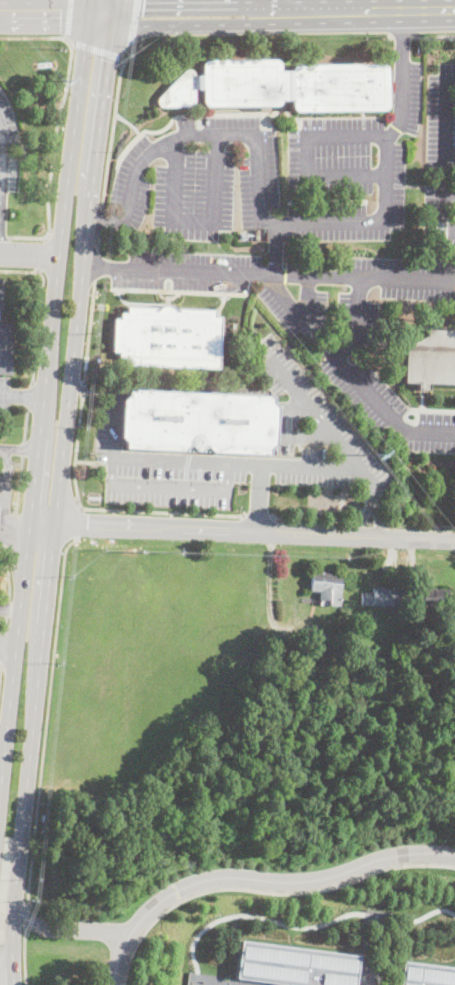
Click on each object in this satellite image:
road: (345, 11)
road: (44, 12)
traffic signals: (60, 13)
road: (197, 14)
road: (123, 16)
traffic signals: (142, 16)
road: (68, 18)
road: (133, 24)
road: (433, 34)
road: (401, 37)
road: (178, 39)
road: (96, 49)
traffic signals: (107, 60)
power tower: (57, 79)
building: (281, 86)
road: (178, 115)
parking lot: (441, 119)
road: (57, 120)
road: (127, 122)
road: (0, 144)
parking lot: (8, 146)
road: (305, 156)
road: (442, 156)
parking lot: (349, 171)
parking lot: (199, 177)
road: (448, 191)
parking lot: (439, 210)
road: (98, 218)
road: (196, 221)
road: (279, 224)
road: (4, 236)
road: (96, 241)
road: (44, 252)
road: (29, 253)
road: (95, 265)
road: (269, 273)
parking lot: (396, 277)
parking lot: (231, 281)
road: (279, 293)
road: (1, 297)
parking lot: (4, 298)
road: (39, 307)
road: (87, 332)
building: (167, 337)
building: (6, 347)
building: (431, 360)
road: (353, 379)
parking lot: (377, 379)
road: (82, 388)
road: (91, 390)
road: (28, 394)
parking lot: (4, 395)
road: (21, 396)
road: (42, 399)
road: (297, 409)
building: (197, 422)
road: (24, 423)
road: (113, 424)
parking lot: (307, 427)
road: (307, 435)
road: (22, 447)
road: (18, 450)
road: (315, 463)
parking lot: (161, 468)
road: (59, 475)
road: (367, 476)
road: (18, 483)
road: (167, 487)
parking lot: (6, 489)
road: (5, 492)
road: (259, 496)
power tower: (410, 504)
road: (104, 508)
road: (365, 512)
road: (376, 512)
road: (257, 513)
road: (329, 519)
road: (358, 520)
road: (369, 522)
road: (379, 522)
road: (74, 523)
road: (420, 524)
road: (190, 528)
road: (10, 529)
road: (2, 531)
road: (2, 531)
road: (2, 532)
road: (15, 532)
road: (2, 533)
road: (368, 535)
road: (420, 538)
road: (7, 572)
road: (268, 585)
building: (326, 589)
building: (383, 597)
building: (436, 597)
road: (7, 608)
road: (10, 610)
road: (3, 622)
road: (8, 647)
building: (319, 649)
road: (45, 723)
road: (1, 780)
road: (257, 879)
park: (226, 883)
road: (265, 892)
road: (25, 914)
road: (300, 926)
road: (67, 929)
road: (6, 951)
road: (23, 954)
building: (296, 965)
road: (13, 968)
building: (427, 974)
road: (208, 983)

